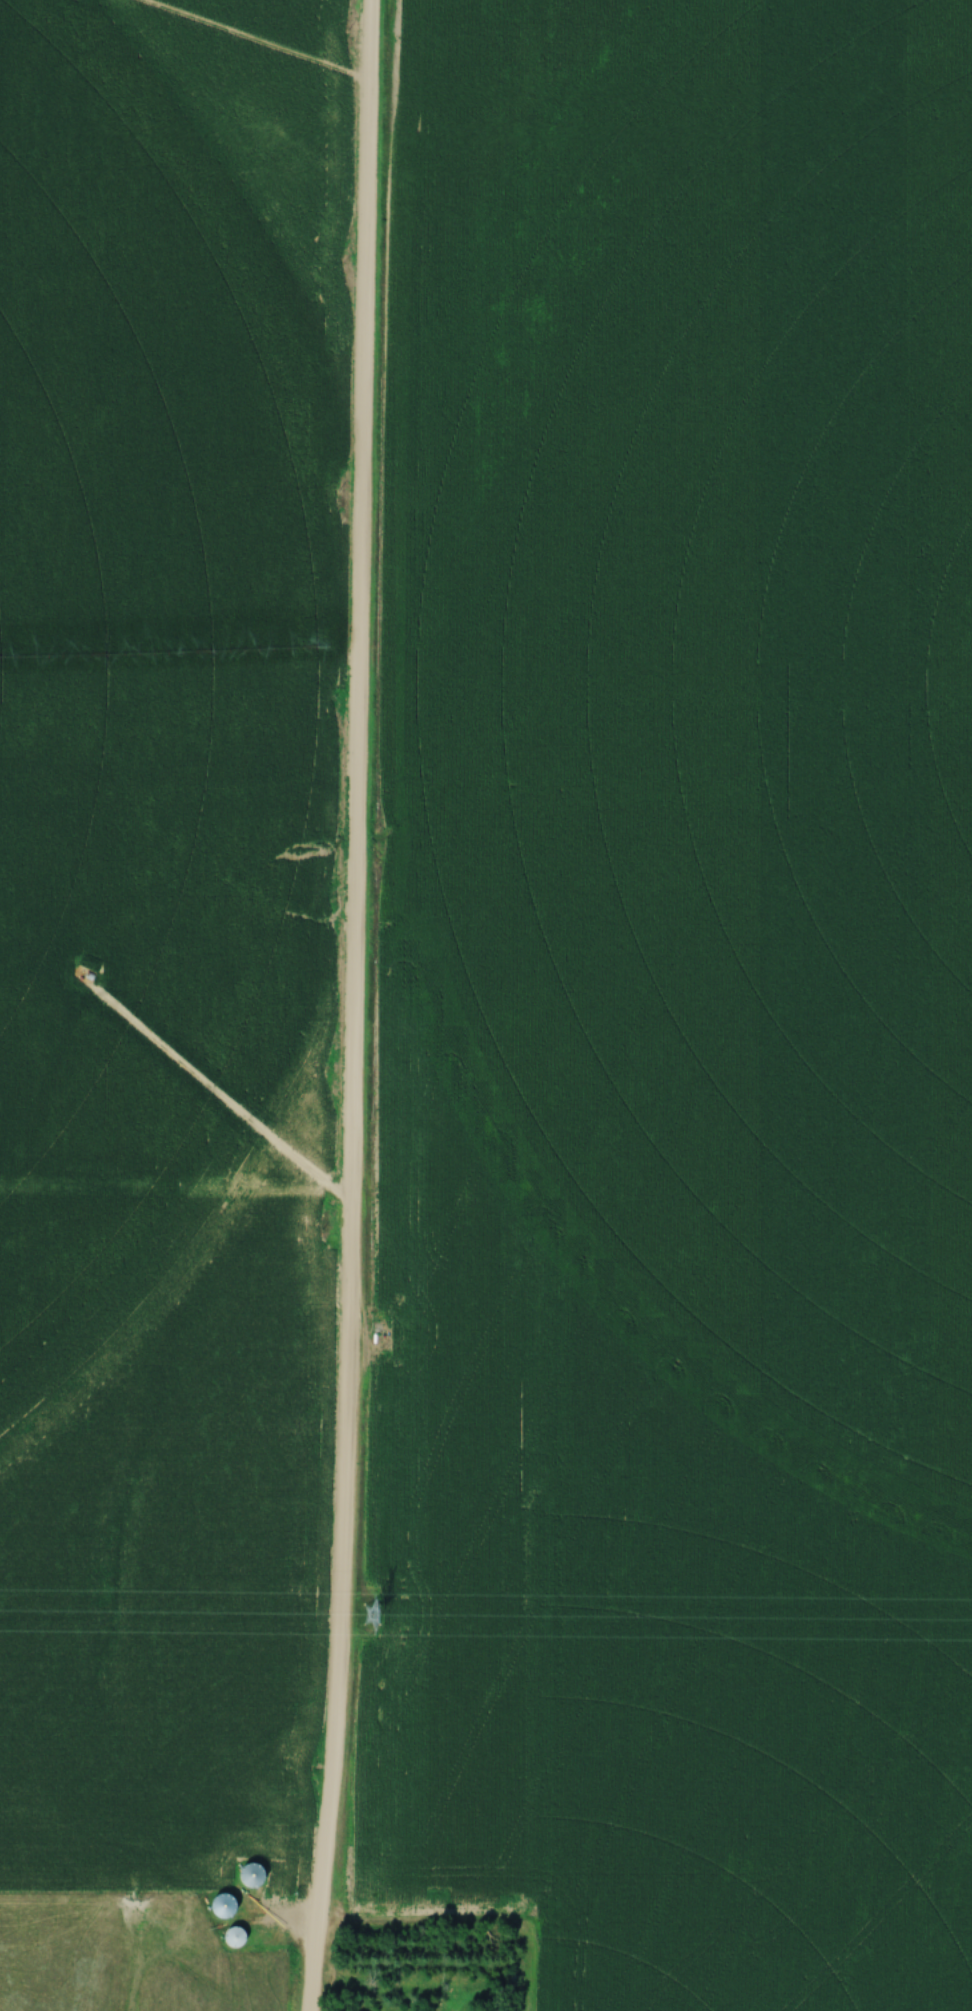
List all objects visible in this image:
road: (356, 1006)
road: (176, 1188)
power tower: (368, 1617)
building: (251, 1876)
building: (223, 1906)
road: (424, 1913)

